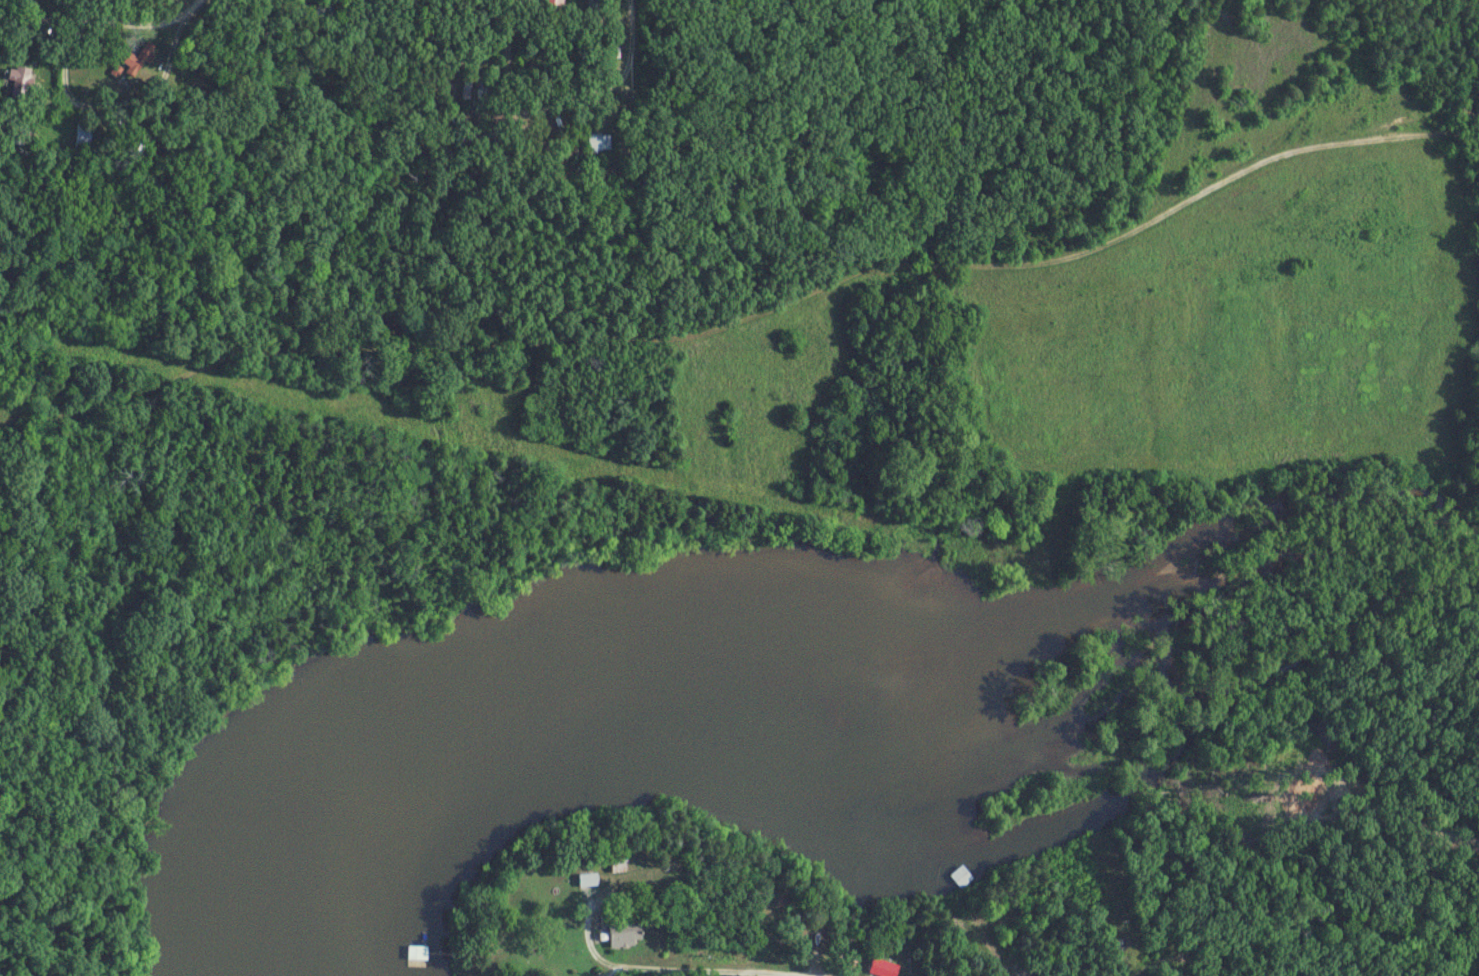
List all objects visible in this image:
building: (554, 8)
building: (595, 10)
road: (92, 19)
building: (47, 38)
building: (142, 59)
road: (125, 100)
road: (549, 100)
building: (23, 136)
building: (84, 137)
building: (600, 143)
road: (881, 269)
building: (620, 864)
building: (588, 881)
building: (624, 934)
building: (418, 957)
building: (883, 968)
road: (677, 969)

